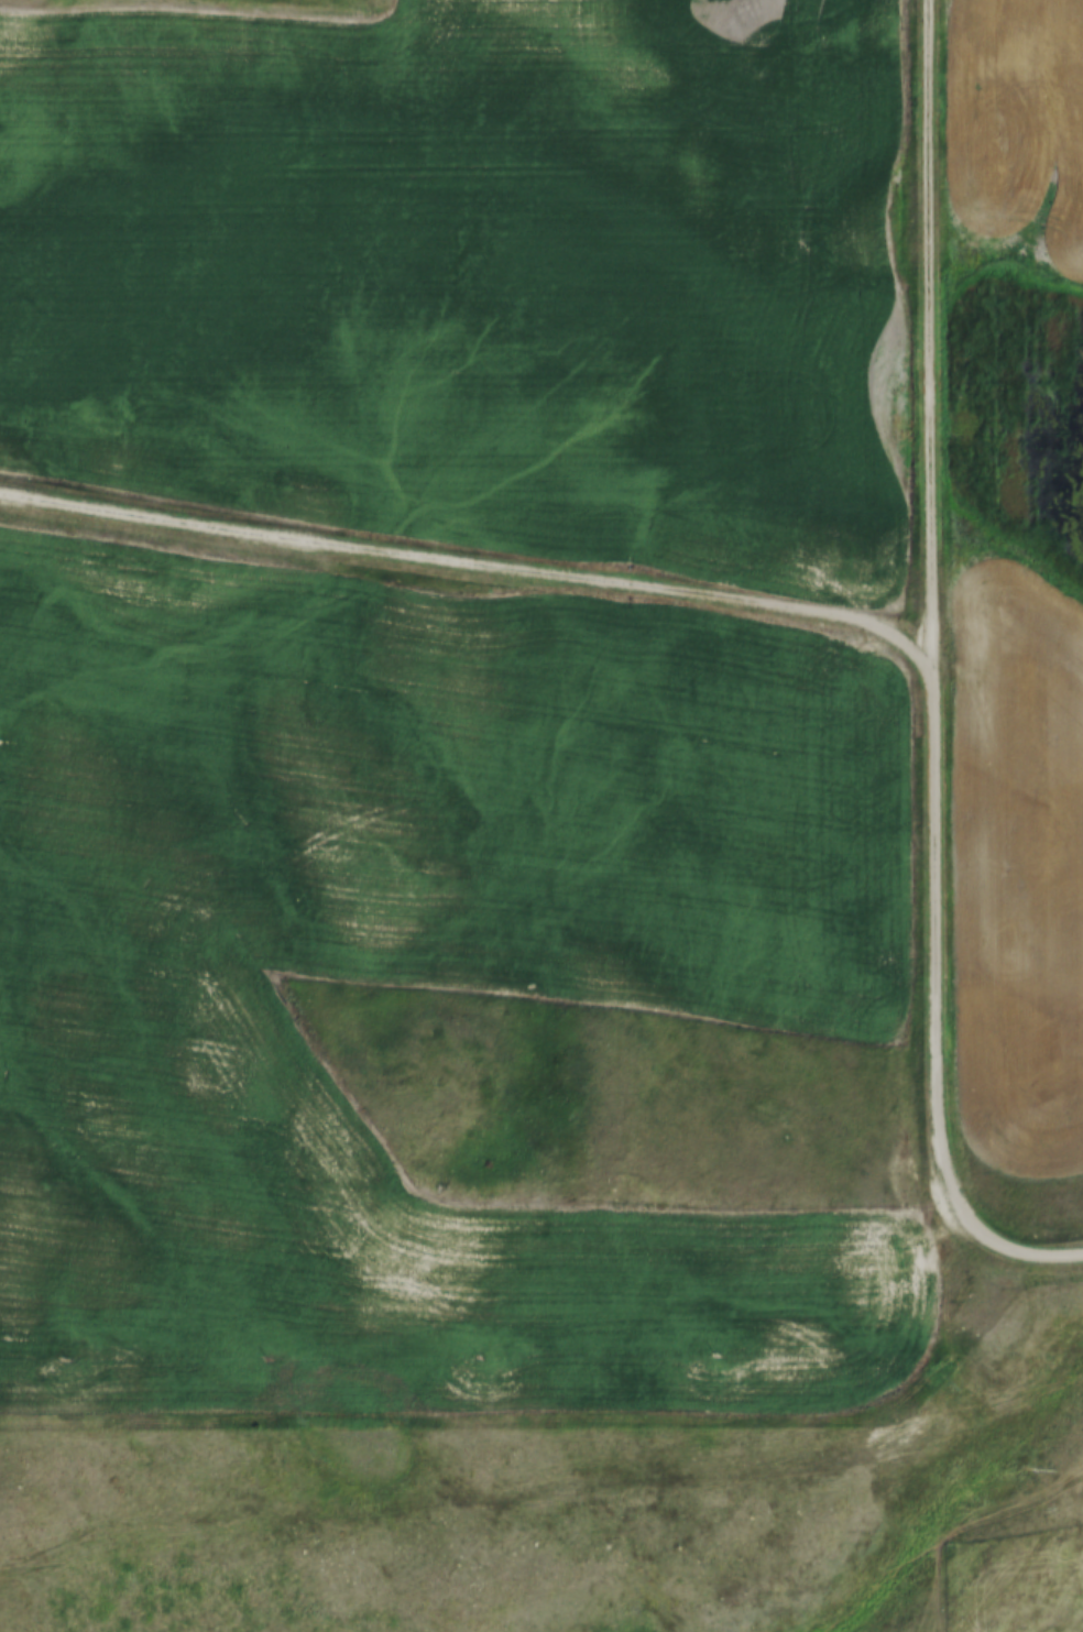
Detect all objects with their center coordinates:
road: (468, 558)
road: (937, 625)
road: (1039, 1248)
road: (1020, 1555)

